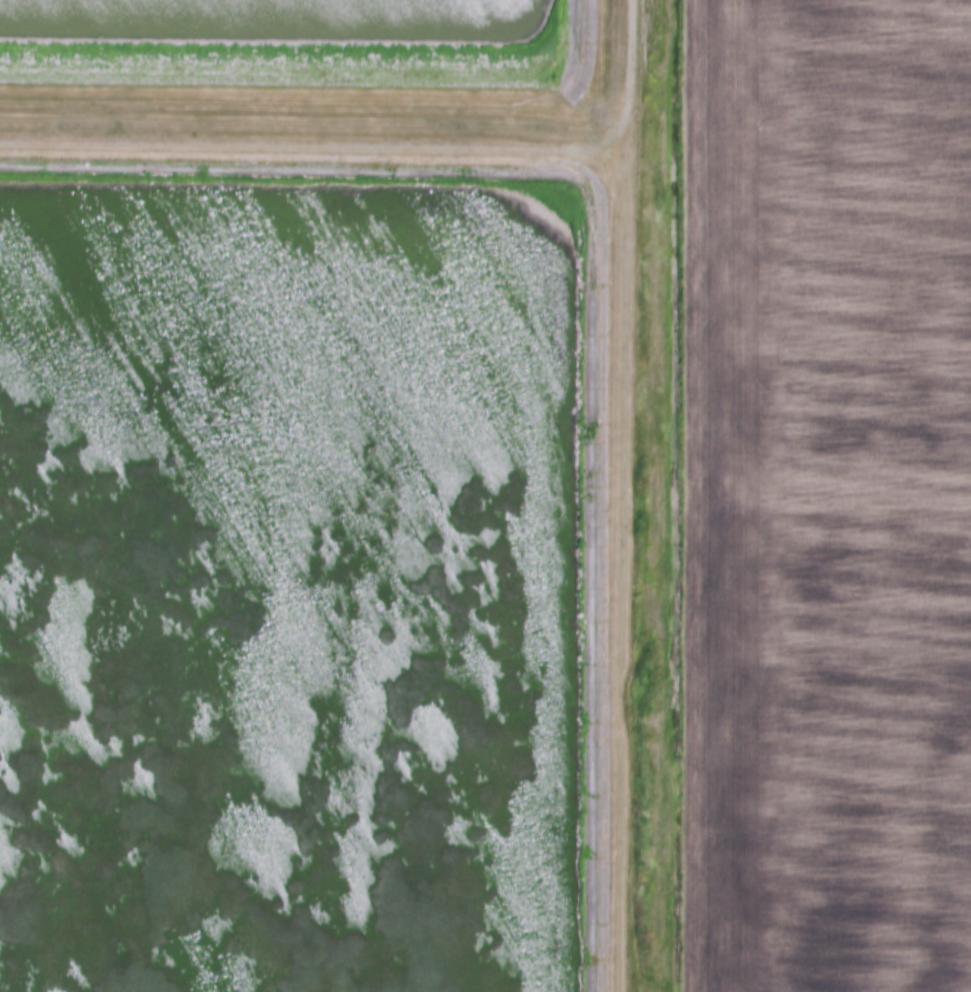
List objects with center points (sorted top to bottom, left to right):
road: (379, 150)
wastewater plant: (316, 494)
crop: (825, 496)

